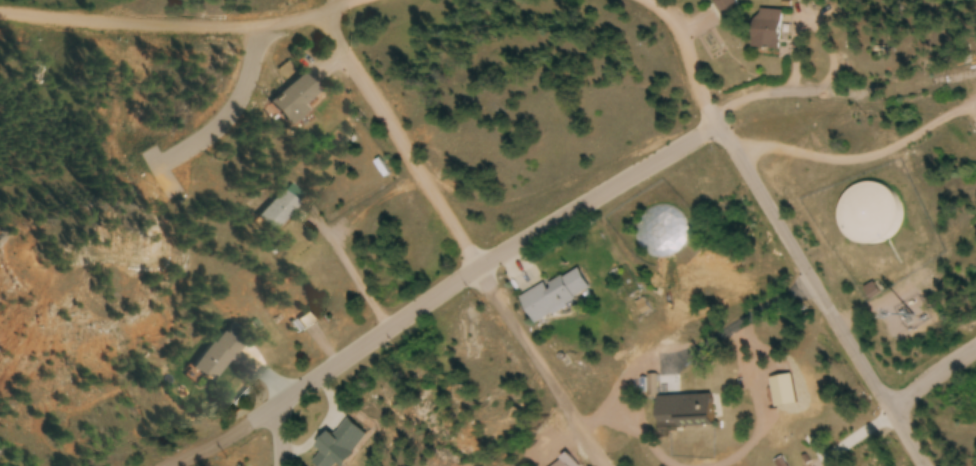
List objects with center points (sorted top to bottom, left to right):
building: (723, 8)
road: (215, 19)
building: (764, 31)
road: (688, 59)
road: (842, 91)
building: (288, 99)
building: (275, 211)
building: (867, 218)
road: (453, 242)
building: (553, 295)
road: (820, 297)
road: (453, 298)
building: (215, 355)
road: (931, 380)
building: (682, 409)
road: (283, 434)
building: (337, 445)
building: (555, 457)

